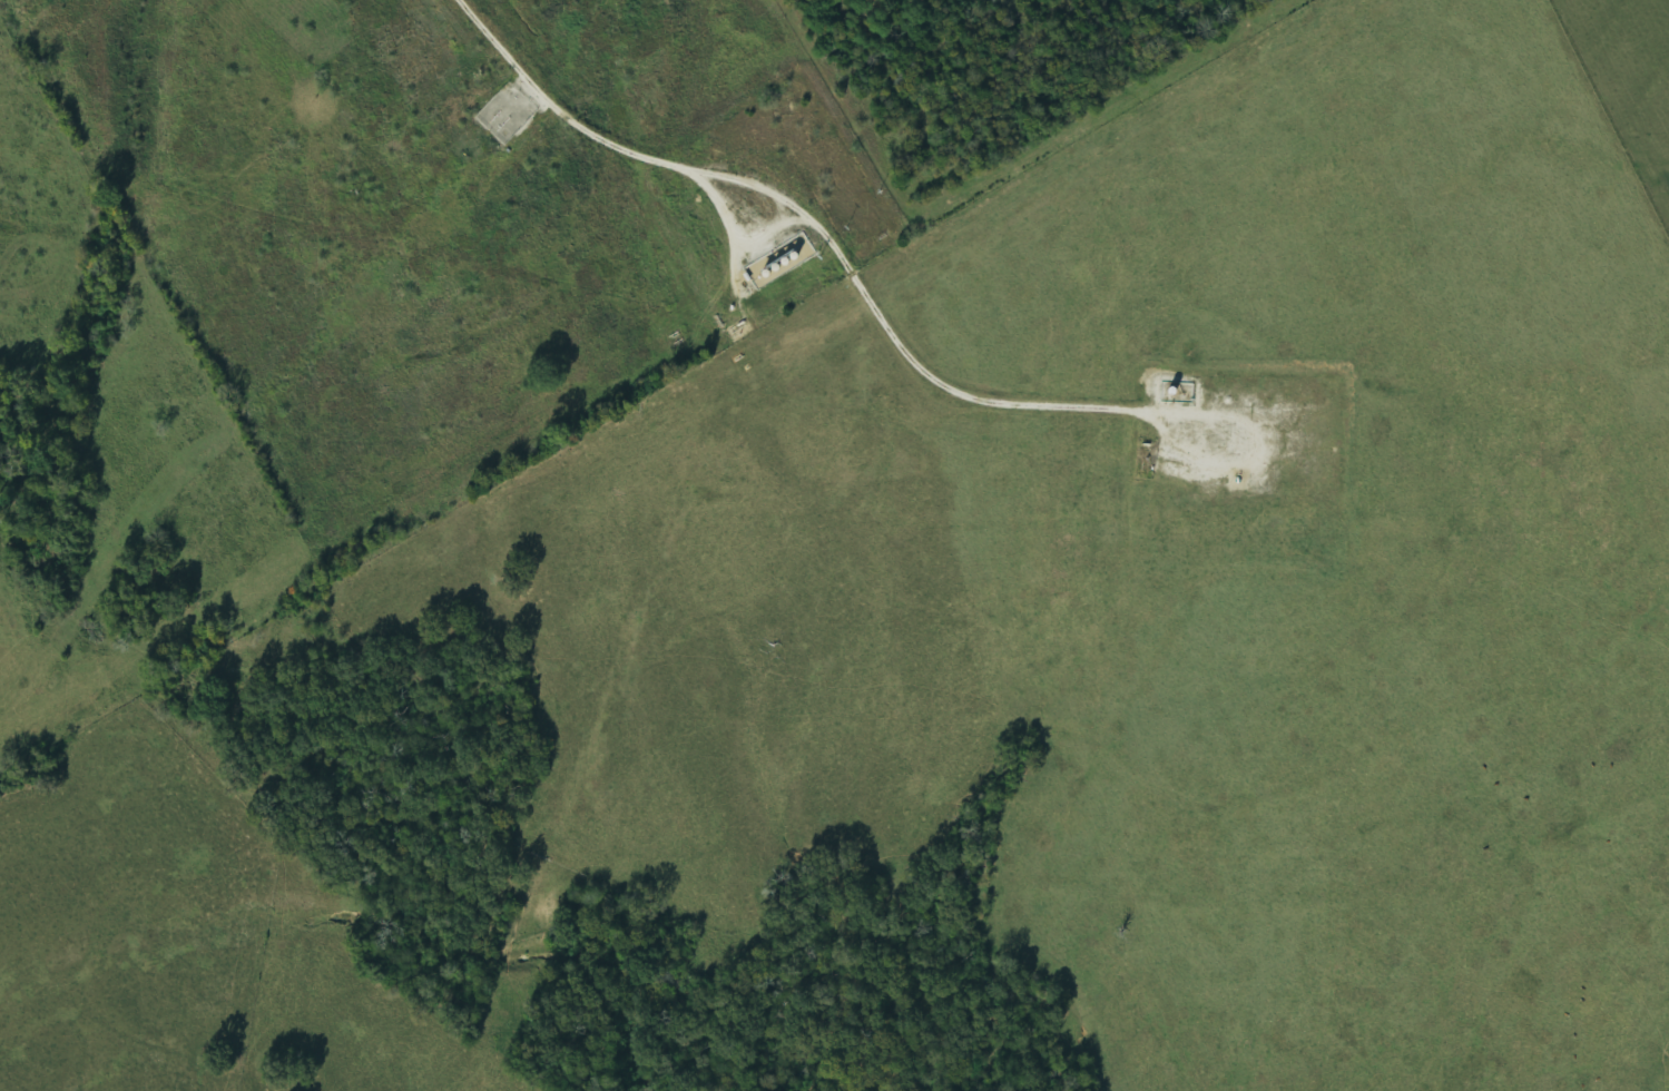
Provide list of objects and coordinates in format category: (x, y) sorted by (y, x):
road: (425, 8)
dam: (1665, 1062)

